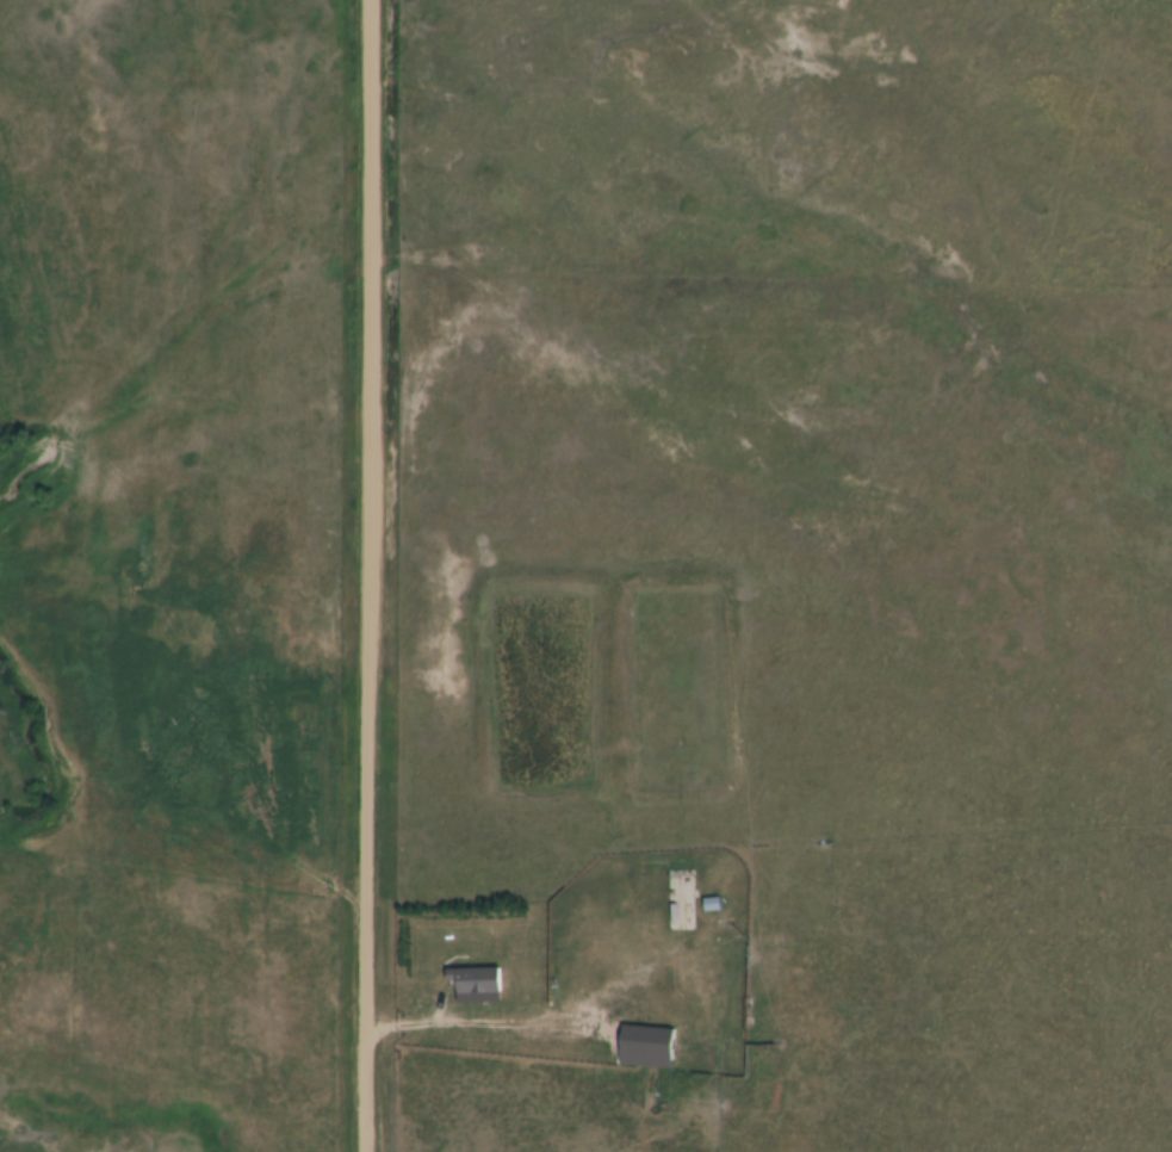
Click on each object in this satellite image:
road: (367, 576)
building: (477, 981)

